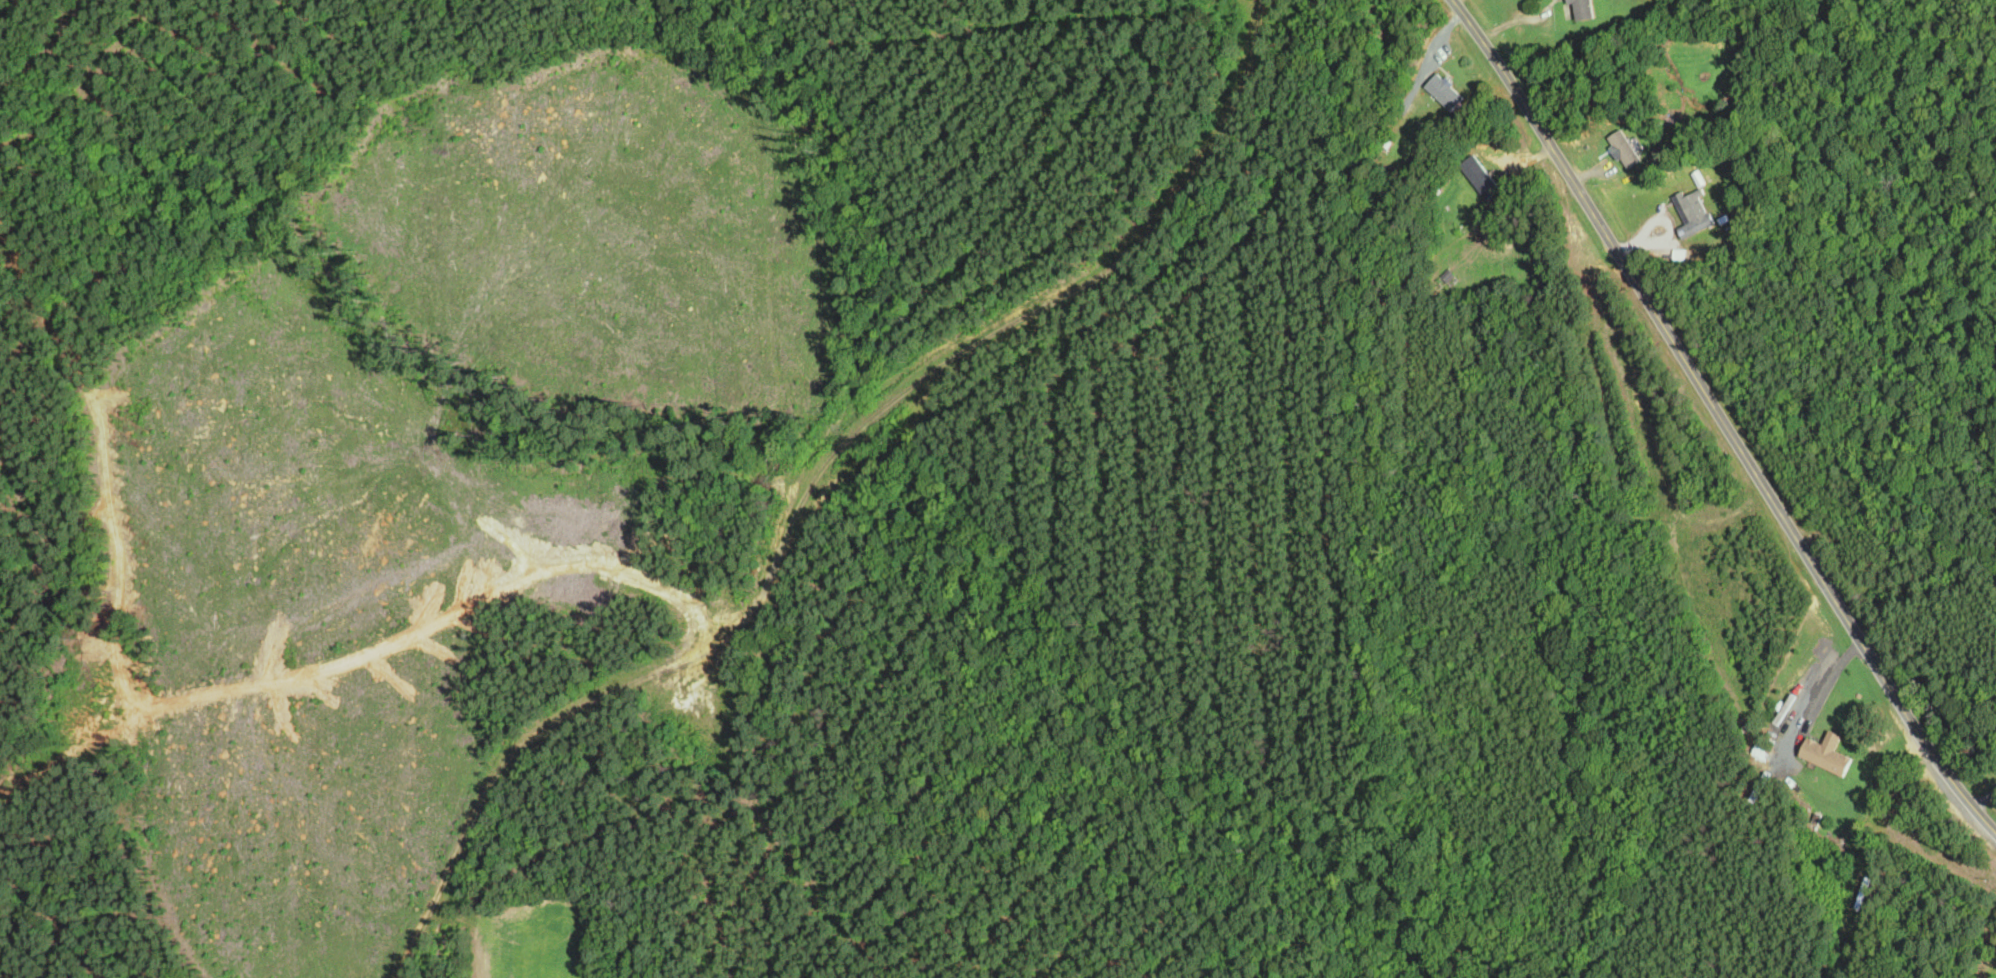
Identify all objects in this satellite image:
road: (1456, 1)
building: (1584, 10)
road: (920, 35)
building: (1446, 93)
building: (1625, 150)
building: (1482, 178)
building: (1695, 214)
building: (1446, 281)
road: (1722, 418)
building: (1828, 758)

